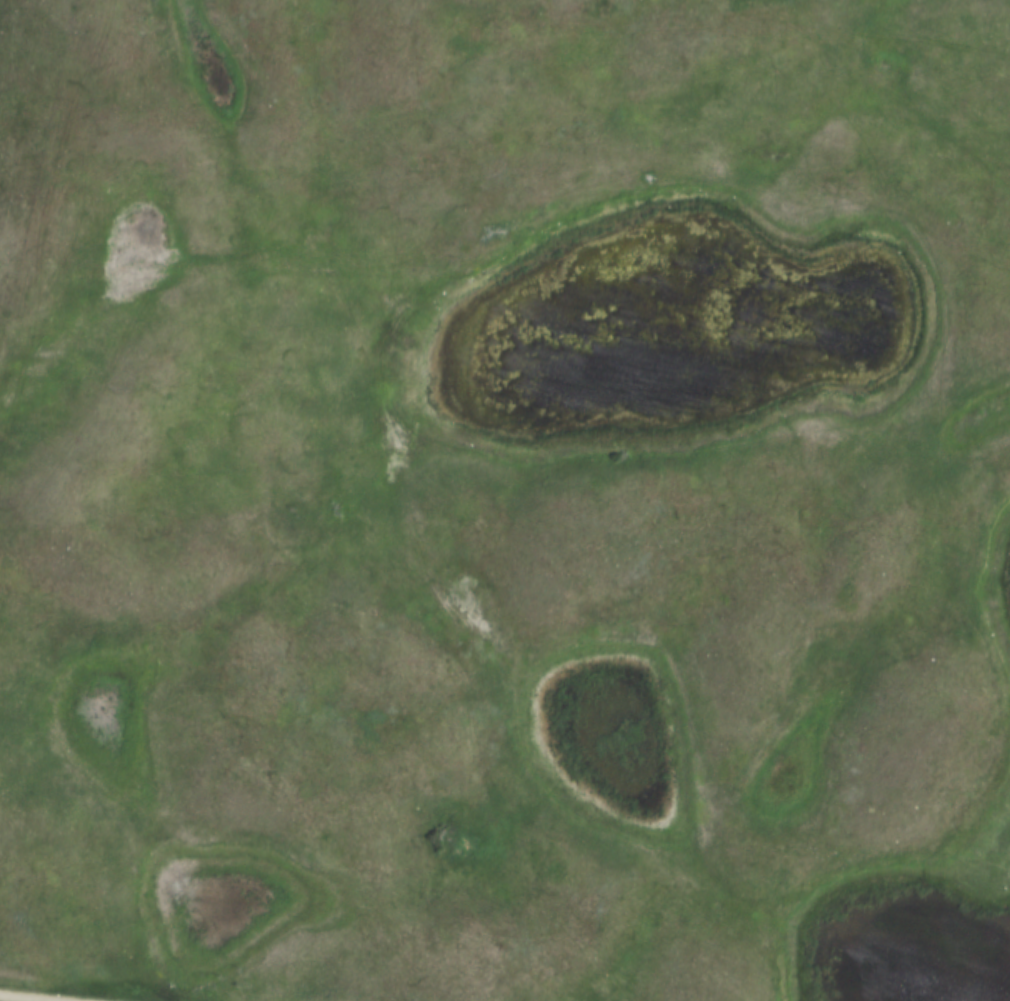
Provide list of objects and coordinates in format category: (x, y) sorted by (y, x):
road: (43, 998)

